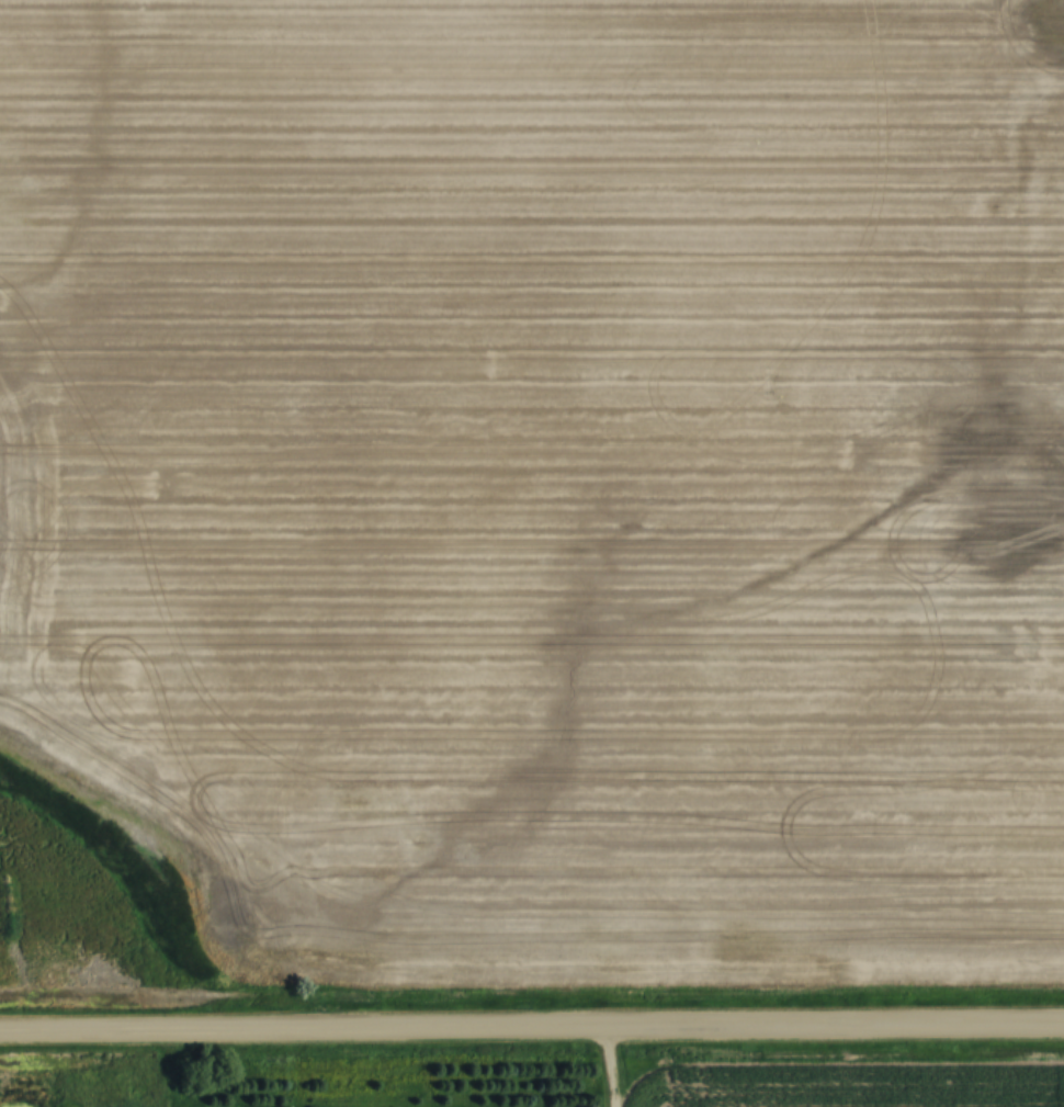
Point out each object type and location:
road: (532, 1030)

